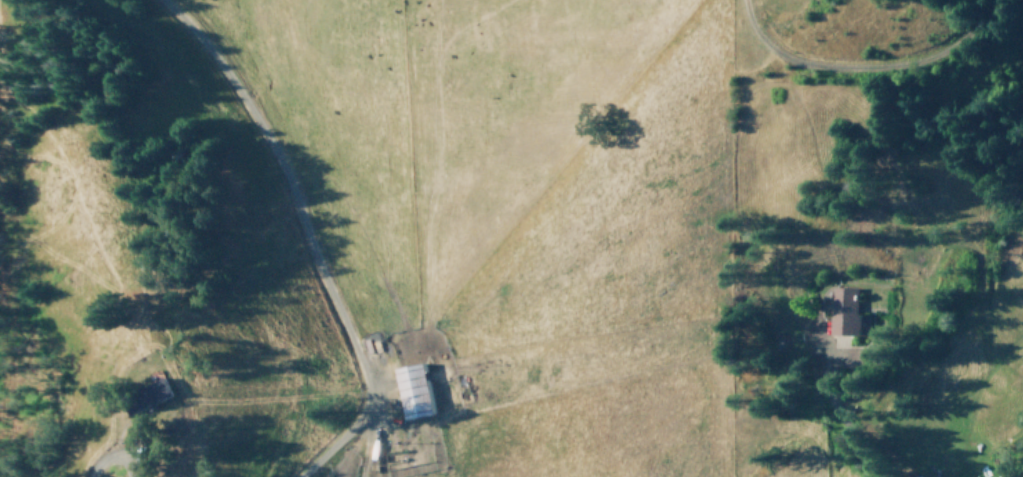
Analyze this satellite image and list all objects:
road: (865, 67)
building: (843, 310)
building: (412, 389)
building: (132, 394)
road: (870, 447)

